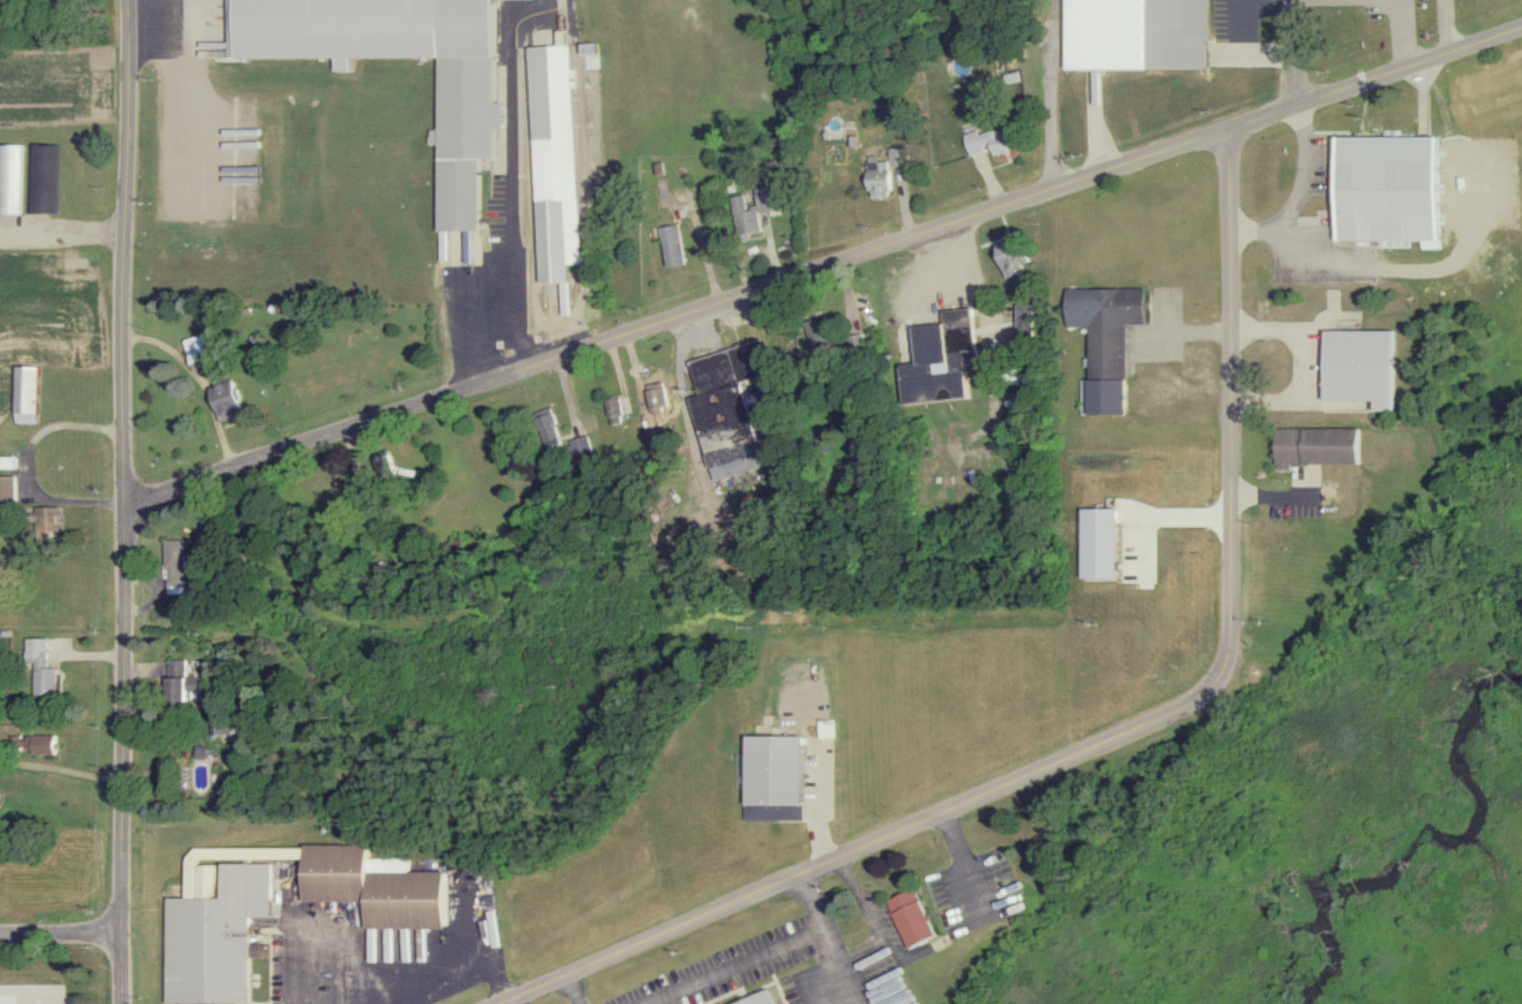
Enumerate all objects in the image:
road: (1372, 4)
park: (1487, 9)
road: (1445, 26)
building: (1138, 32)
road: (152, 34)
road: (1293, 51)
road: (1049, 93)
road: (179, 100)
building: (469, 113)
building: (990, 140)
building: (552, 159)
building: (883, 172)
building: (37, 178)
building: (7, 179)
road: (508, 187)
building: (1386, 188)
road: (1293, 191)
building: (769, 198)
building: (742, 216)
road: (62, 237)
building: (671, 244)
building: (1010, 254)
road: (821, 268)
building: (1021, 327)
building: (816, 332)
building: (1101, 342)
building: (852, 343)
building: (206, 349)
building: (937, 359)
building: (1355, 366)
building: (26, 393)
building: (654, 398)
building: (229, 399)
building: (725, 405)
building: (611, 410)
building: (546, 426)
building: (579, 445)
building: (1314, 445)
building: (385, 464)
building: (6, 489)
building: (379, 495)
road: (1267, 496)
road: (121, 501)
building: (174, 566)
building: (39, 672)
building: (182, 680)
road: (1110, 733)
building: (40, 743)
building: (772, 777)
road: (815, 802)
building: (909, 916)
building: (206, 921)
road: (480, 921)
road: (60, 931)
road: (761, 955)
road: (834, 964)
road: (461, 975)
road: (572, 988)
building: (760, 998)
road: (506, 1002)

